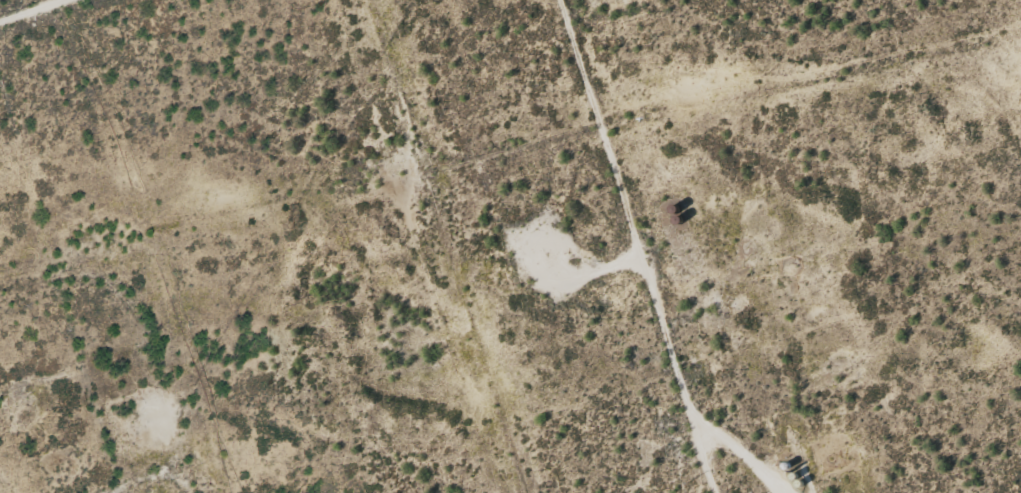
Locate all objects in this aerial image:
road: (68, 26)
road: (26, 196)
road: (624, 246)
road: (118, 361)

